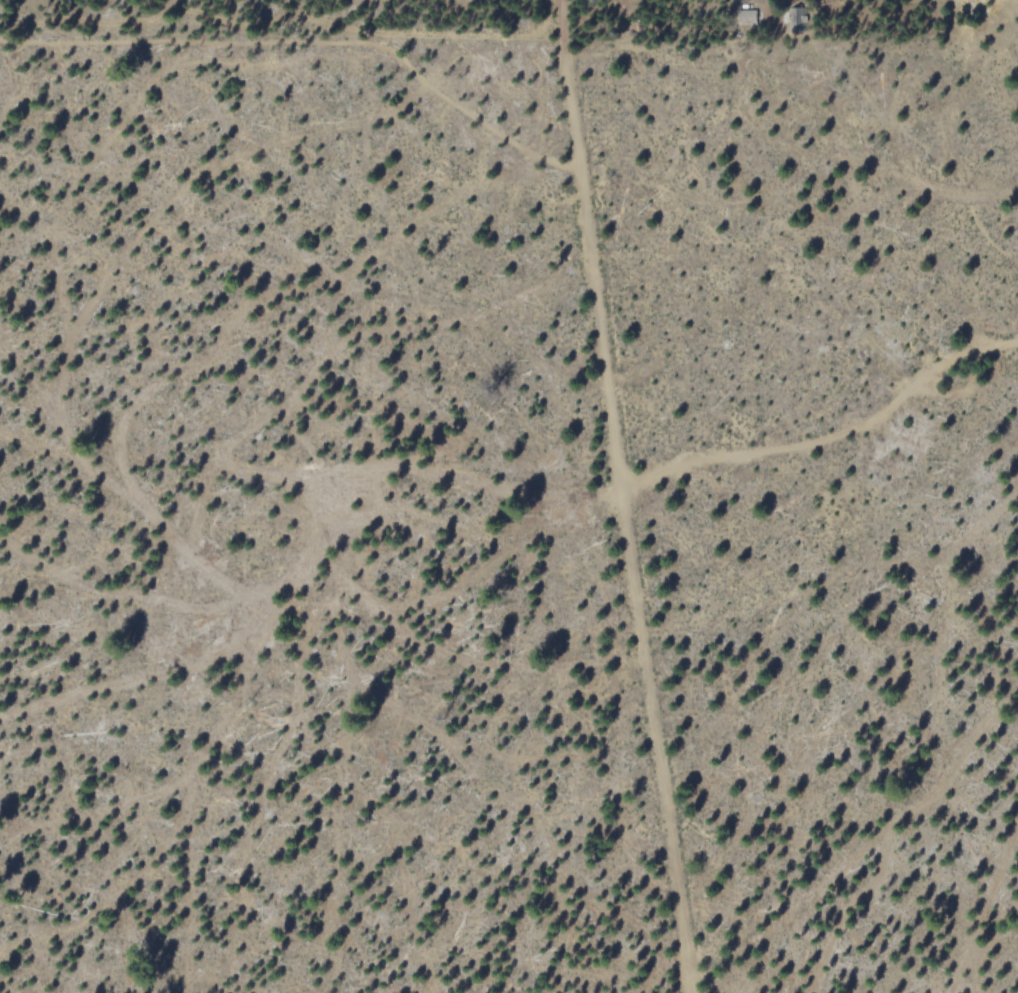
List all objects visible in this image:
building: (746, 17)
road: (825, 441)
road: (618, 497)

